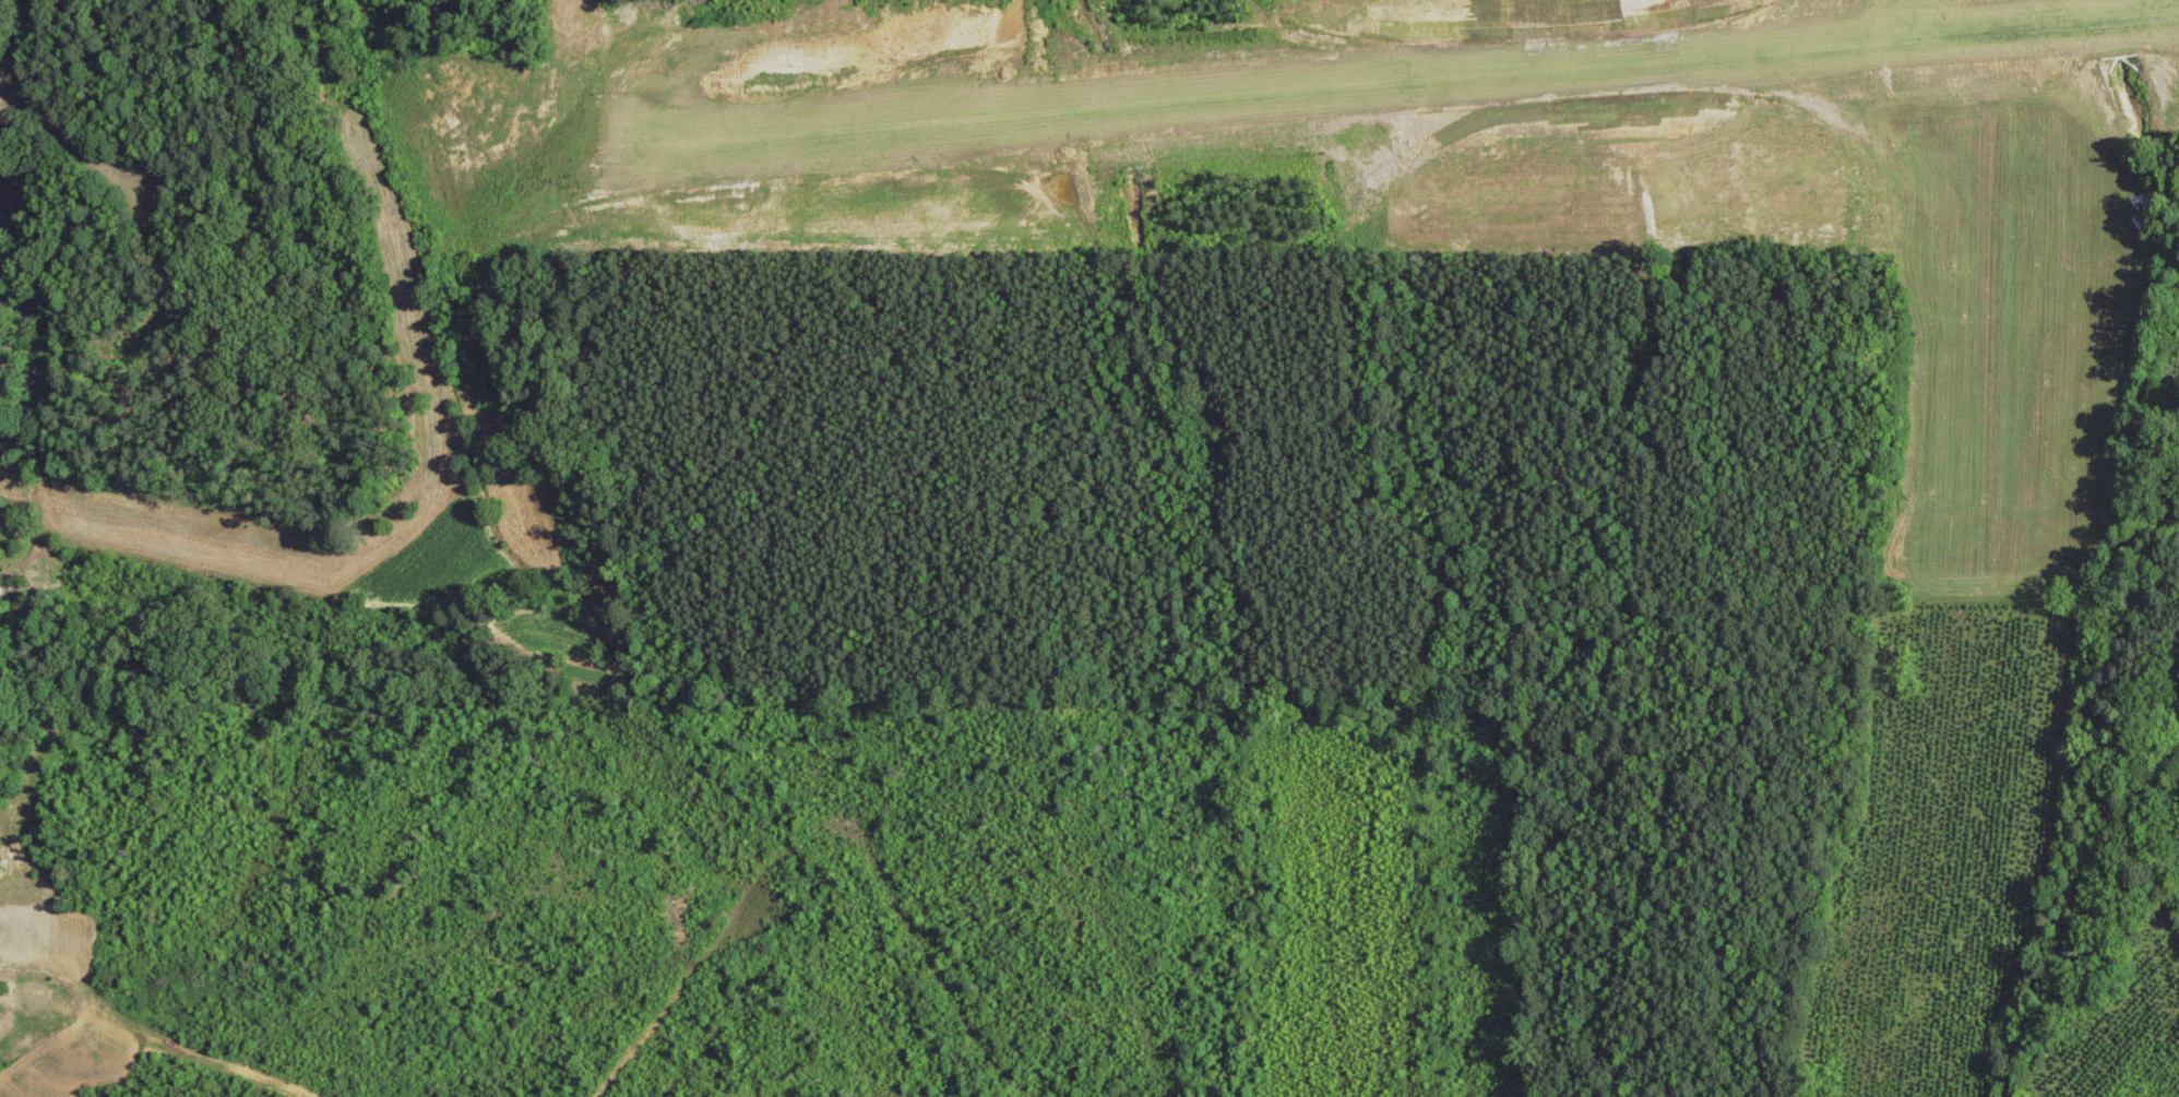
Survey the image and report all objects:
airport runway: (1414, 73)

